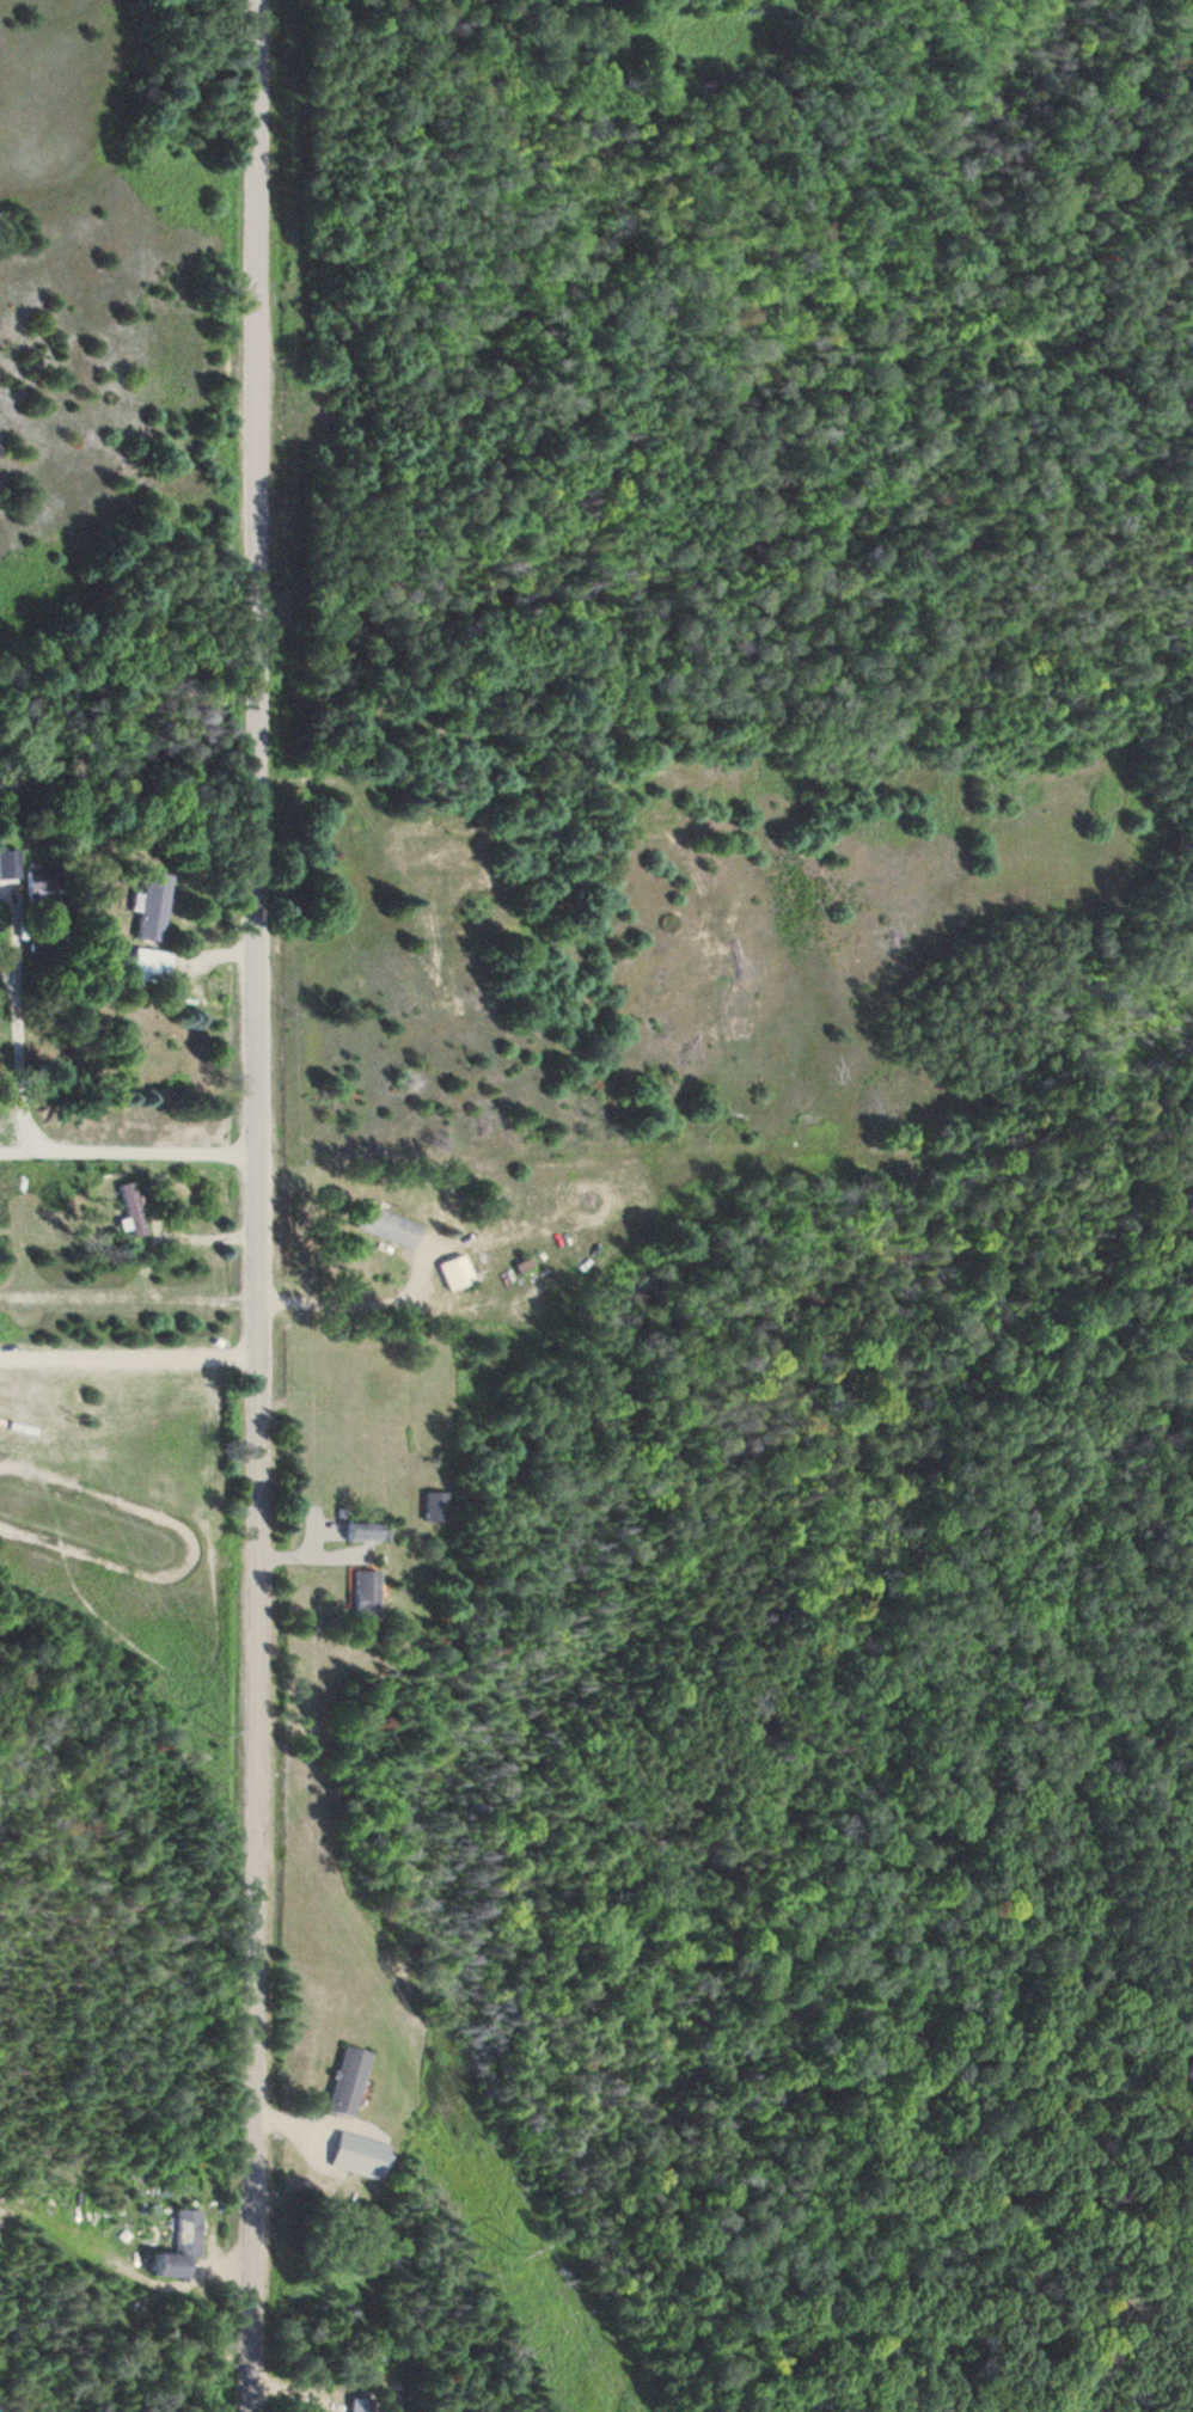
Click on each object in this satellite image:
building: (148, 907)
building: (141, 967)
road: (37, 1040)
road: (129, 1147)
road: (259, 1206)
building: (126, 1211)
building: (378, 1228)
building: (446, 1273)
building: (429, 1507)
building: (351, 1532)
building: (359, 1597)
building: (342, 2083)
building: (354, 2156)
building: (173, 2248)
building: (359, 2405)

